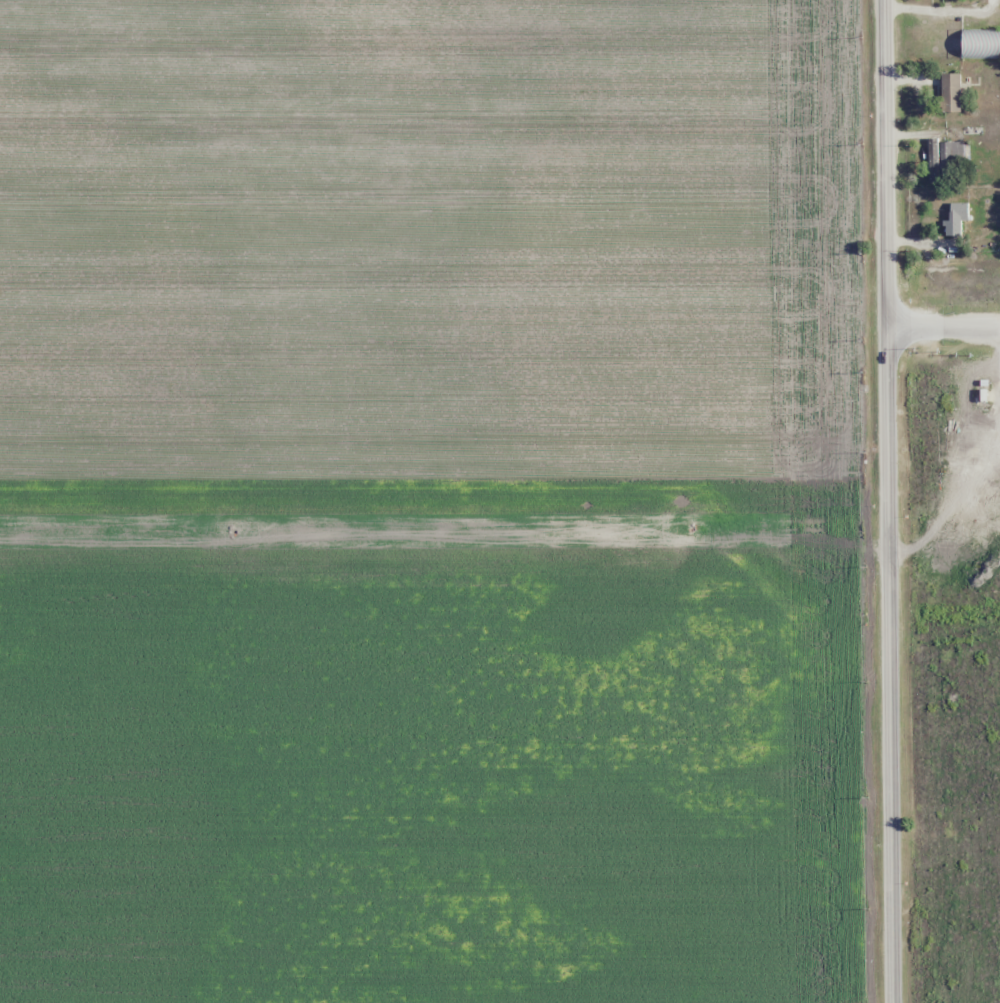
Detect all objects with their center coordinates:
building: (980, 44)
building: (949, 92)
building: (950, 151)
building: (957, 211)
road: (894, 501)
crop: (958, 630)

